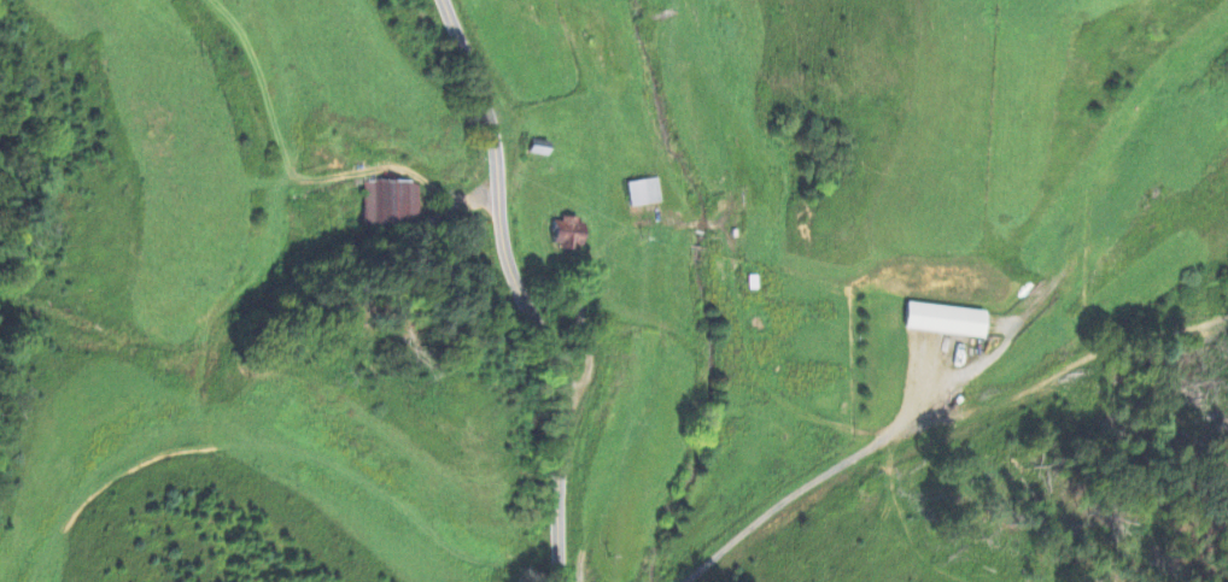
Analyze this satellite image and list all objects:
building: (643, 193)
building: (388, 205)
building: (566, 234)
road: (517, 290)
building: (945, 321)
road: (812, 486)

